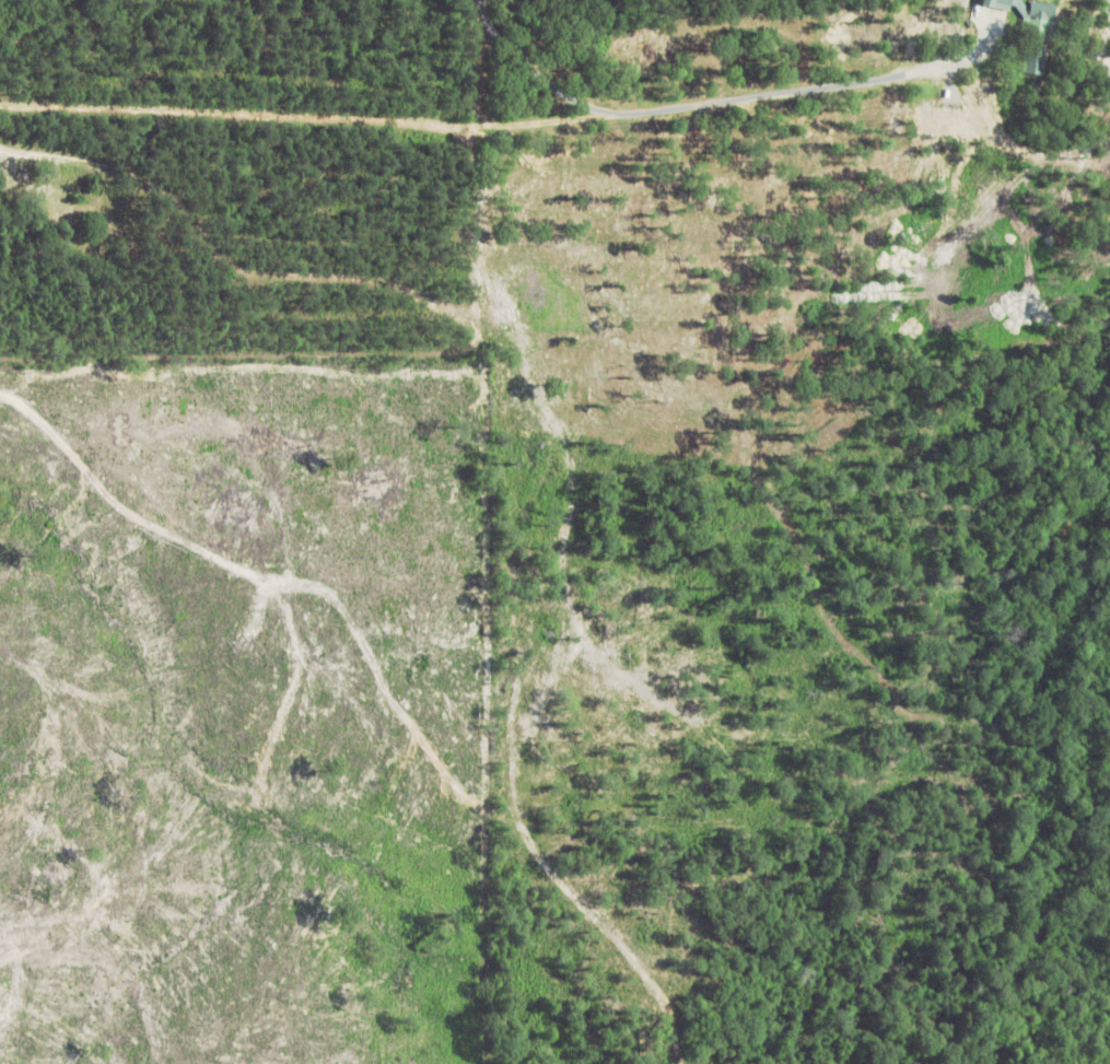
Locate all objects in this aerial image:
building: (1062, 3)
building: (1035, 30)
river: (1042, 702)

